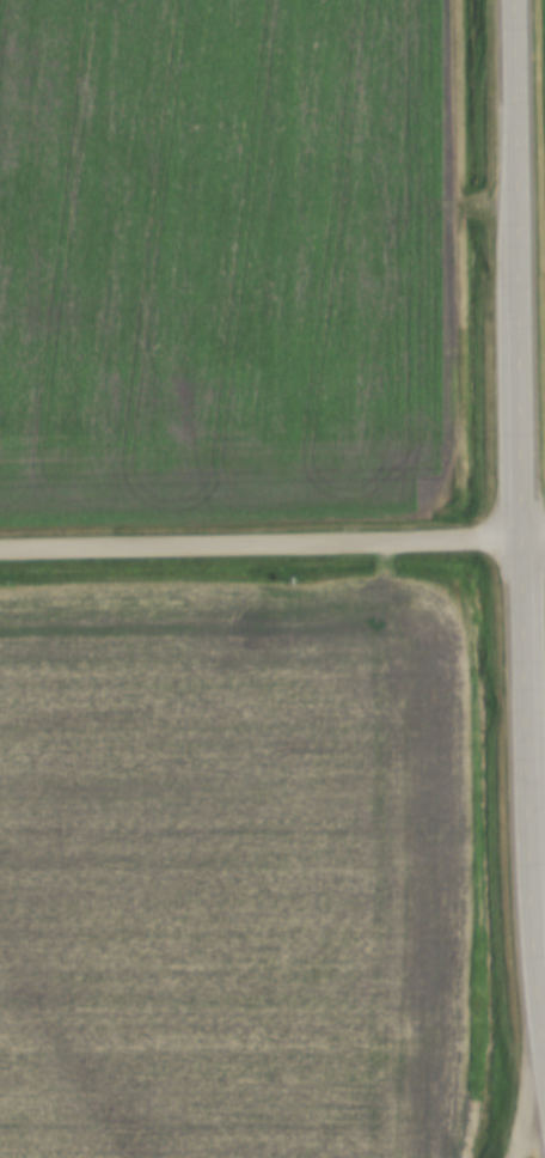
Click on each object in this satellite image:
crop: (227, 261)
road: (271, 541)
road: (519, 559)
crop: (233, 870)
road: (525, 1132)

